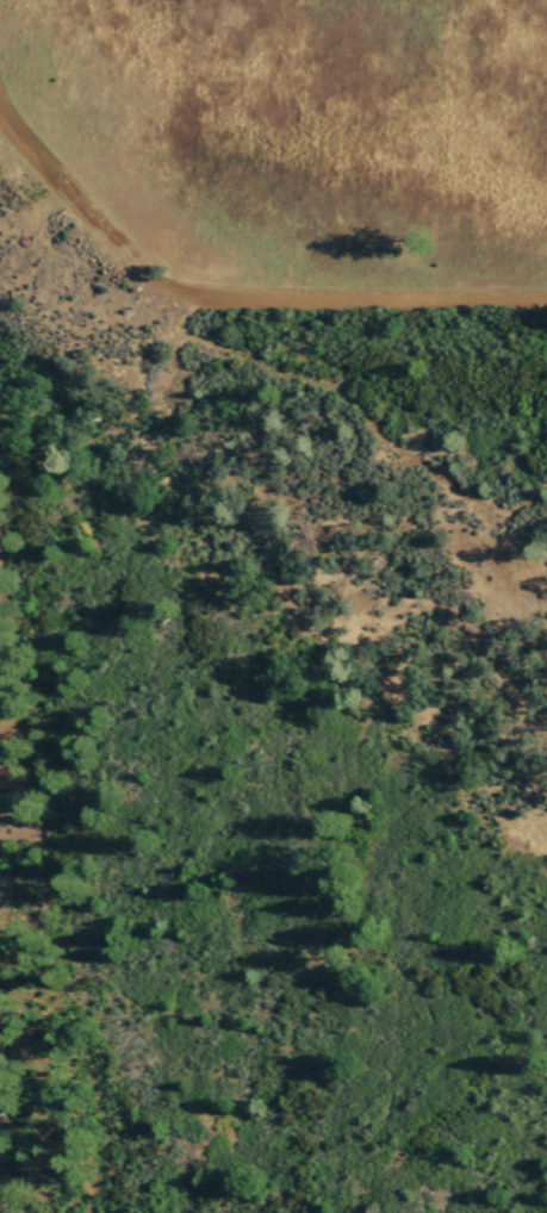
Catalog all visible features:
building: (2, 1111)

